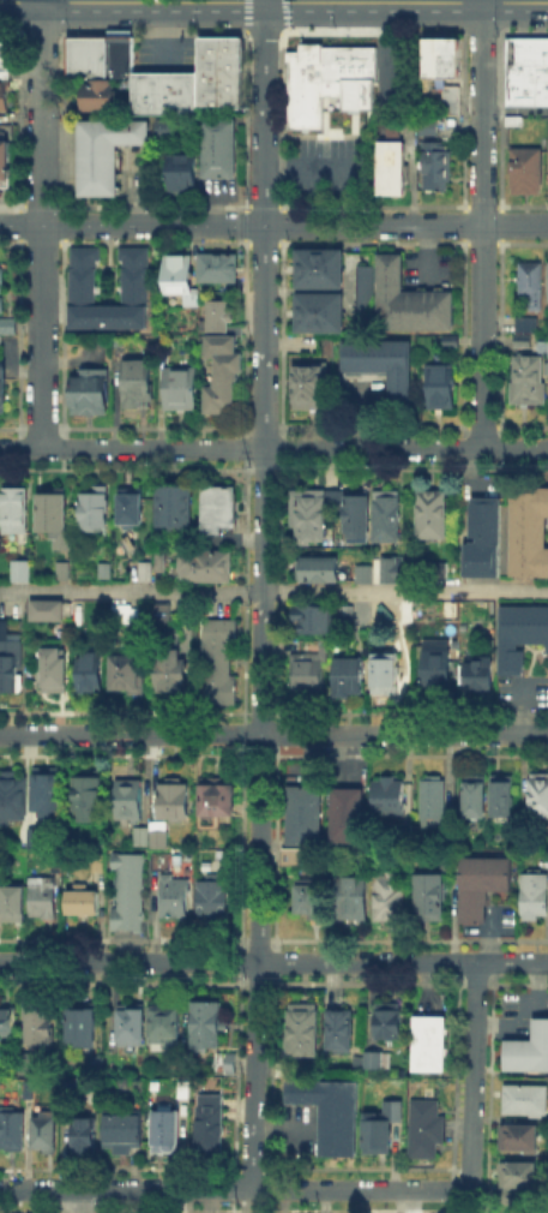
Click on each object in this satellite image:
road: (253, 0)
traffic signals: (265, 0)
road: (407, 0)
building: (88, 54)
parking lot: (164, 54)
building: (2, 55)
building: (120, 55)
building: (441, 58)
building: (525, 70)
building: (218, 71)
parking lot: (403, 78)
building: (325, 82)
building: (164, 90)
building: (1, 97)
building: (94, 97)
building: (448, 97)
road: (514, 109)
building: (167, 131)
building: (103, 151)
building: (222, 151)
road: (303, 166)
building: (2, 167)
building: (436, 168)
building: (523, 168)
building: (393, 169)
building: (547, 171)
parking lot: (332, 172)
building: (183, 177)
road: (42, 223)
road: (482, 223)
road: (273, 225)
road: (427, 249)
building: (221, 270)
building: (323, 271)
parking lot: (430, 274)
building: (182, 280)
building: (546, 280)
building: (528, 281)
building: (77, 285)
building: (363, 287)
building: (1, 289)
building: (414, 304)
building: (323, 316)
building: (217, 318)
building: (8, 328)
building: (528, 330)
building: (547, 345)
building: (378, 365)
building: (218, 372)
building: (525, 378)
building: (303, 384)
building: (4, 386)
building: (138, 386)
building: (438, 386)
building: (181, 392)
building: (92, 394)
parking lot: (361, 398)
road: (273, 448)
road: (261, 480)
building: (133, 506)
building: (175, 507)
building: (218, 509)
building: (17, 512)
building: (95, 512)
building: (427, 514)
building: (52, 515)
building: (384, 515)
building: (355, 516)
building: (309, 519)
building: (530, 534)
building: (482, 542)
building: (207, 567)
building: (60, 568)
building: (17, 569)
building: (315, 569)
building: (393, 569)
building: (444, 570)
building: (107, 572)
building: (147, 574)
building: (365, 576)
road: (273, 591)
building: (44, 609)
building: (100, 611)
building: (125, 614)
building: (164, 615)
building: (311, 616)
building: (522, 637)
building: (7, 656)
building: (223, 665)
building: (52, 668)
building: (434, 670)
building: (173, 671)
building: (389, 671)
building: (90, 674)
building: (127, 674)
building: (307, 674)
building: (481, 674)
building: (350, 679)
road: (273, 733)
building: (49, 793)
building: (90, 796)
building: (540, 796)
building: (219, 797)
building: (476, 797)
building: (13, 799)
building: (390, 799)
building: (504, 800)
building: (176, 801)
building: (132, 802)
building: (435, 802)
building: (306, 817)
building: (348, 821)
building: (38, 837)
building: (143, 838)
building: (162, 839)
building: (293, 860)
building: (164, 862)
building: (482, 888)
building: (131, 895)
building: (536, 896)
building: (311, 897)
building: (392, 897)
building: (176, 898)
building: (434, 898)
building: (43, 900)
building: (215, 900)
building: (85, 902)
building: (353, 902)
building: (16, 906)
road: (128, 962)
road: (367, 962)
road: (512, 962)
building: (7, 1021)
building: (84, 1023)
building: (168, 1023)
building: (390, 1023)
building: (40, 1024)
building: (132, 1024)
building: (210, 1026)
building: (301, 1028)
building: (343, 1032)
building: (430, 1045)
building: (530, 1052)
building: (26, 1059)
building: (377, 1062)
building: (362, 1064)
road: (257, 1076)
road: (475, 1076)
building: (188, 1090)
building: (528, 1103)
building: (337, 1113)
building: (216, 1123)
building: (387, 1127)
building: (127, 1129)
building: (13, 1133)
building: (48, 1133)
building: (430, 1133)
building: (171, 1134)
building: (89, 1137)
building: (524, 1140)
building: (524, 1177)
road: (127, 1190)
road: (365, 1190)
road: (82, 1201)

